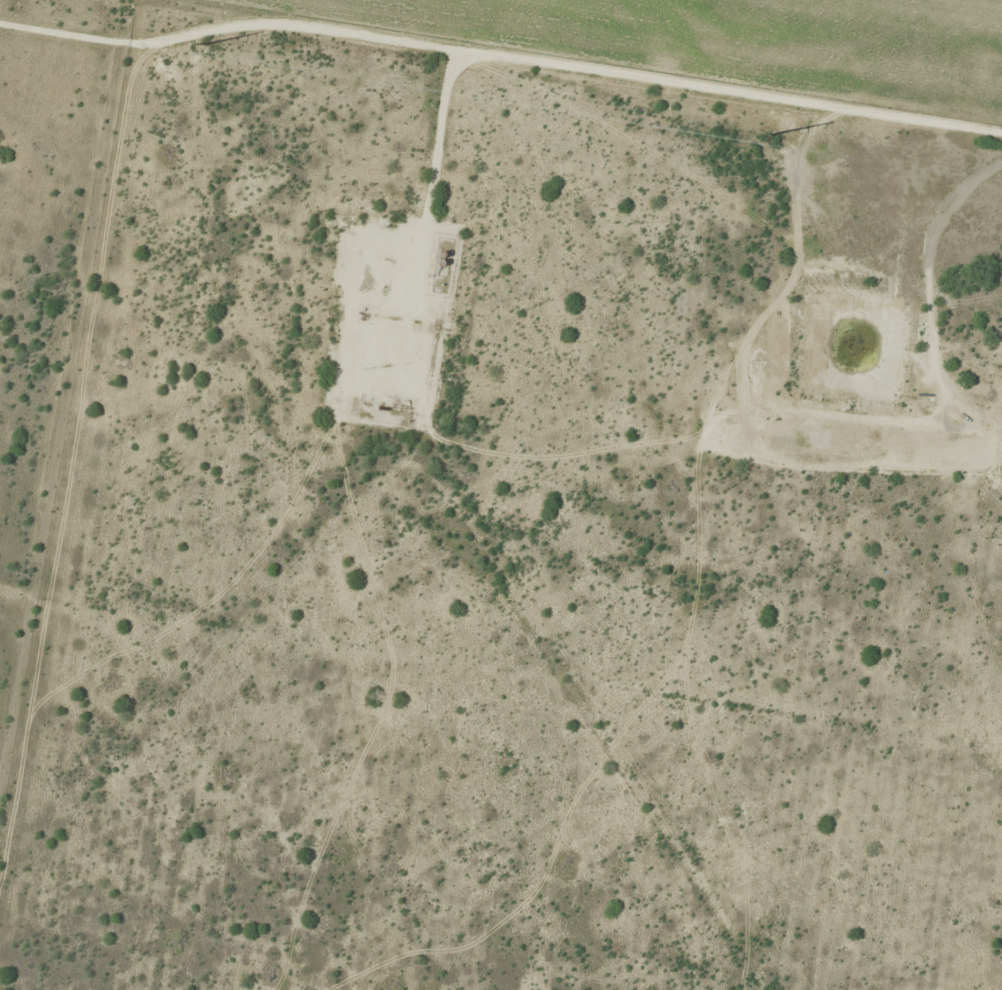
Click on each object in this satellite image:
power tower: (211, 50)
road: (398, 54)
power tower: (785, 139)

